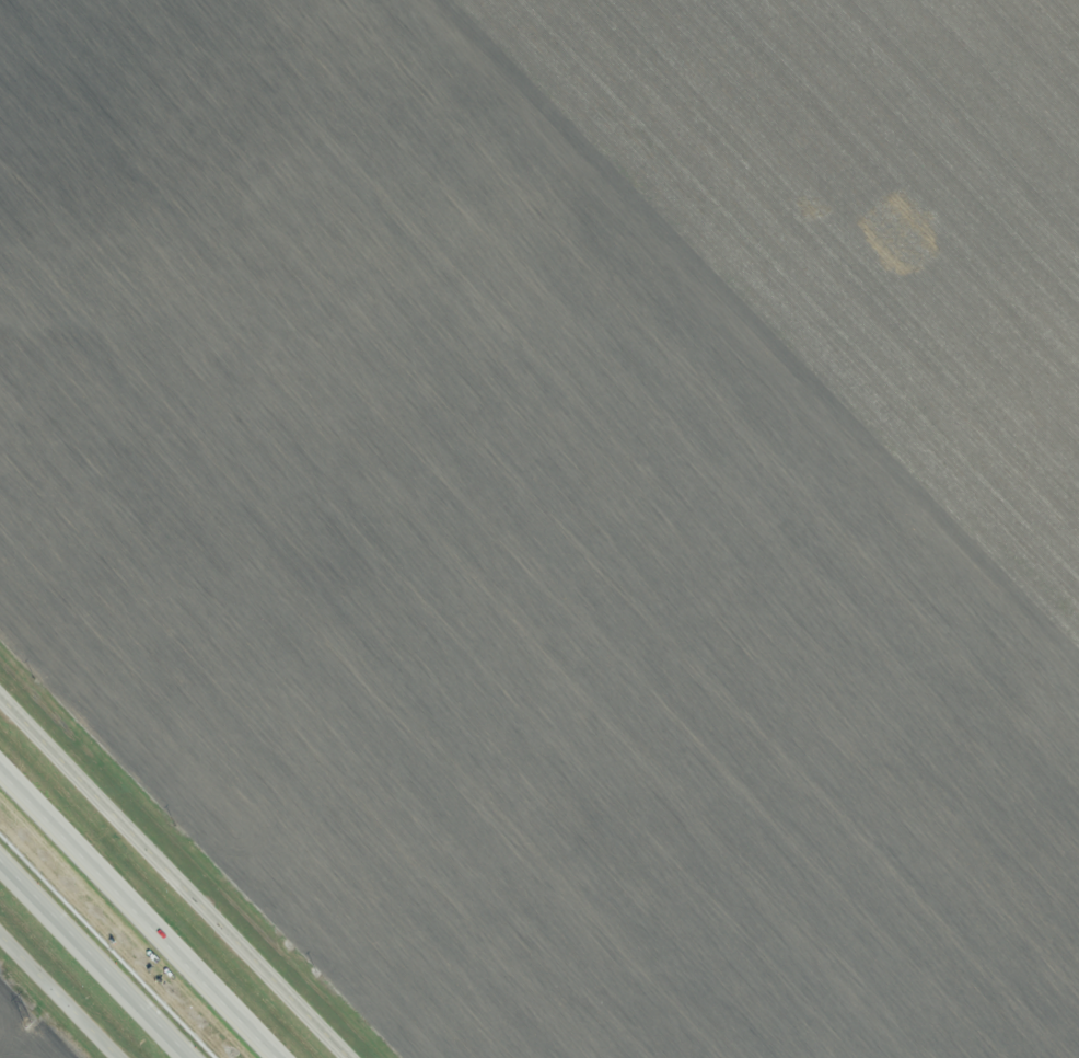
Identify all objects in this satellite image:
road: (176, 873)
road: (139, 912)
road: (95, 958)
road: (58, 997)
power tower: (27, 1024)

